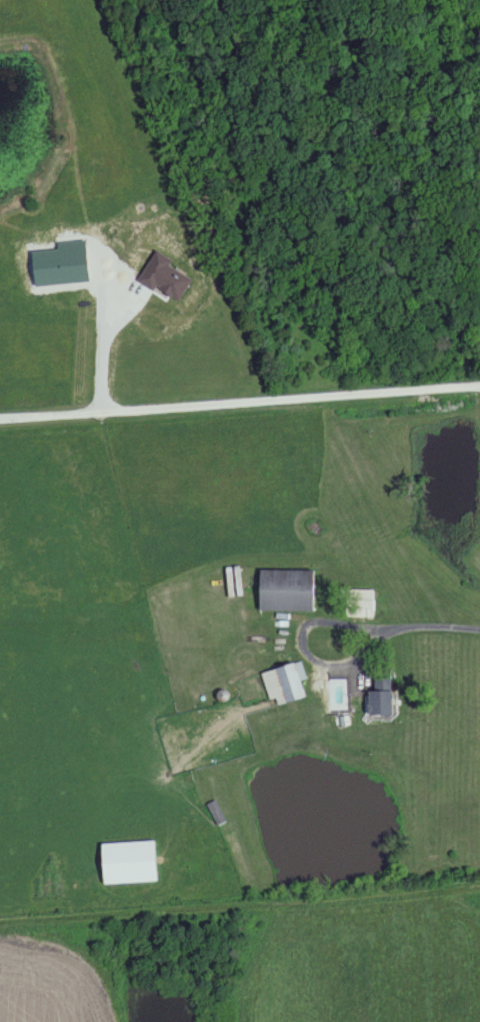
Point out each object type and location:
road: (240, 407)
building: (285, 592)
building: (359, 606)
road: (376, 633)
building: (284, 685)
building: (376, 705)
building: (216, 815)
road: (283, 900)

